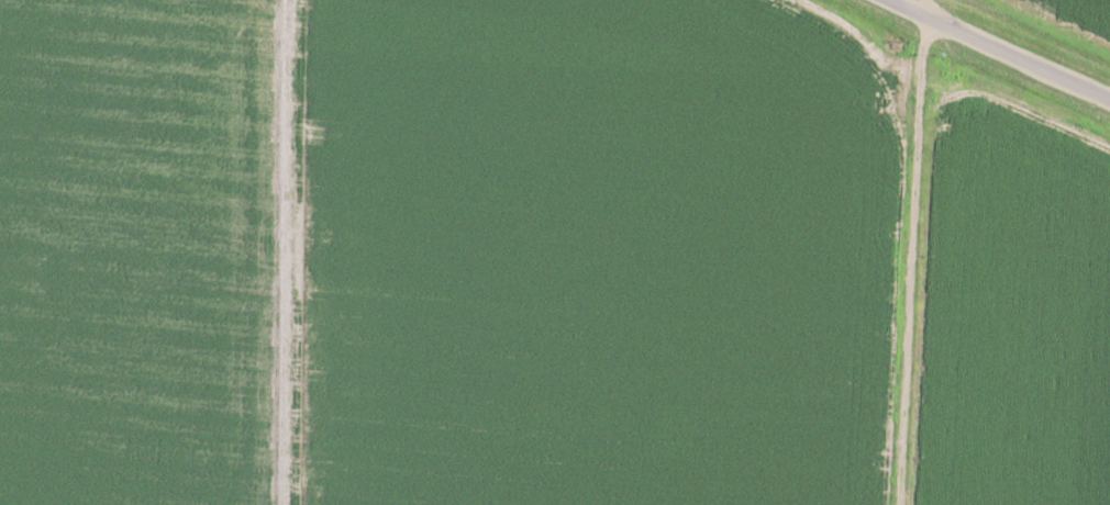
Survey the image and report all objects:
road: (996, 50)
road: (908, 251)

